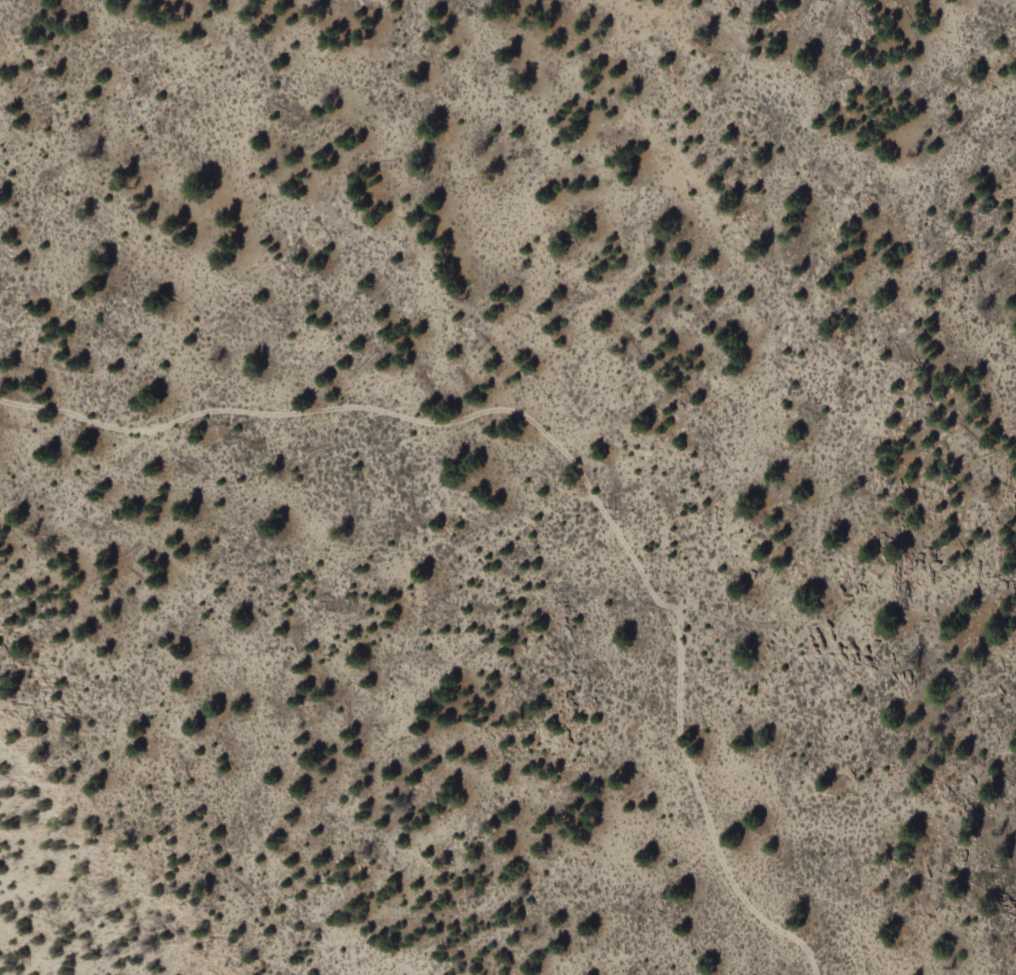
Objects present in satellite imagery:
road: (567, 458)

